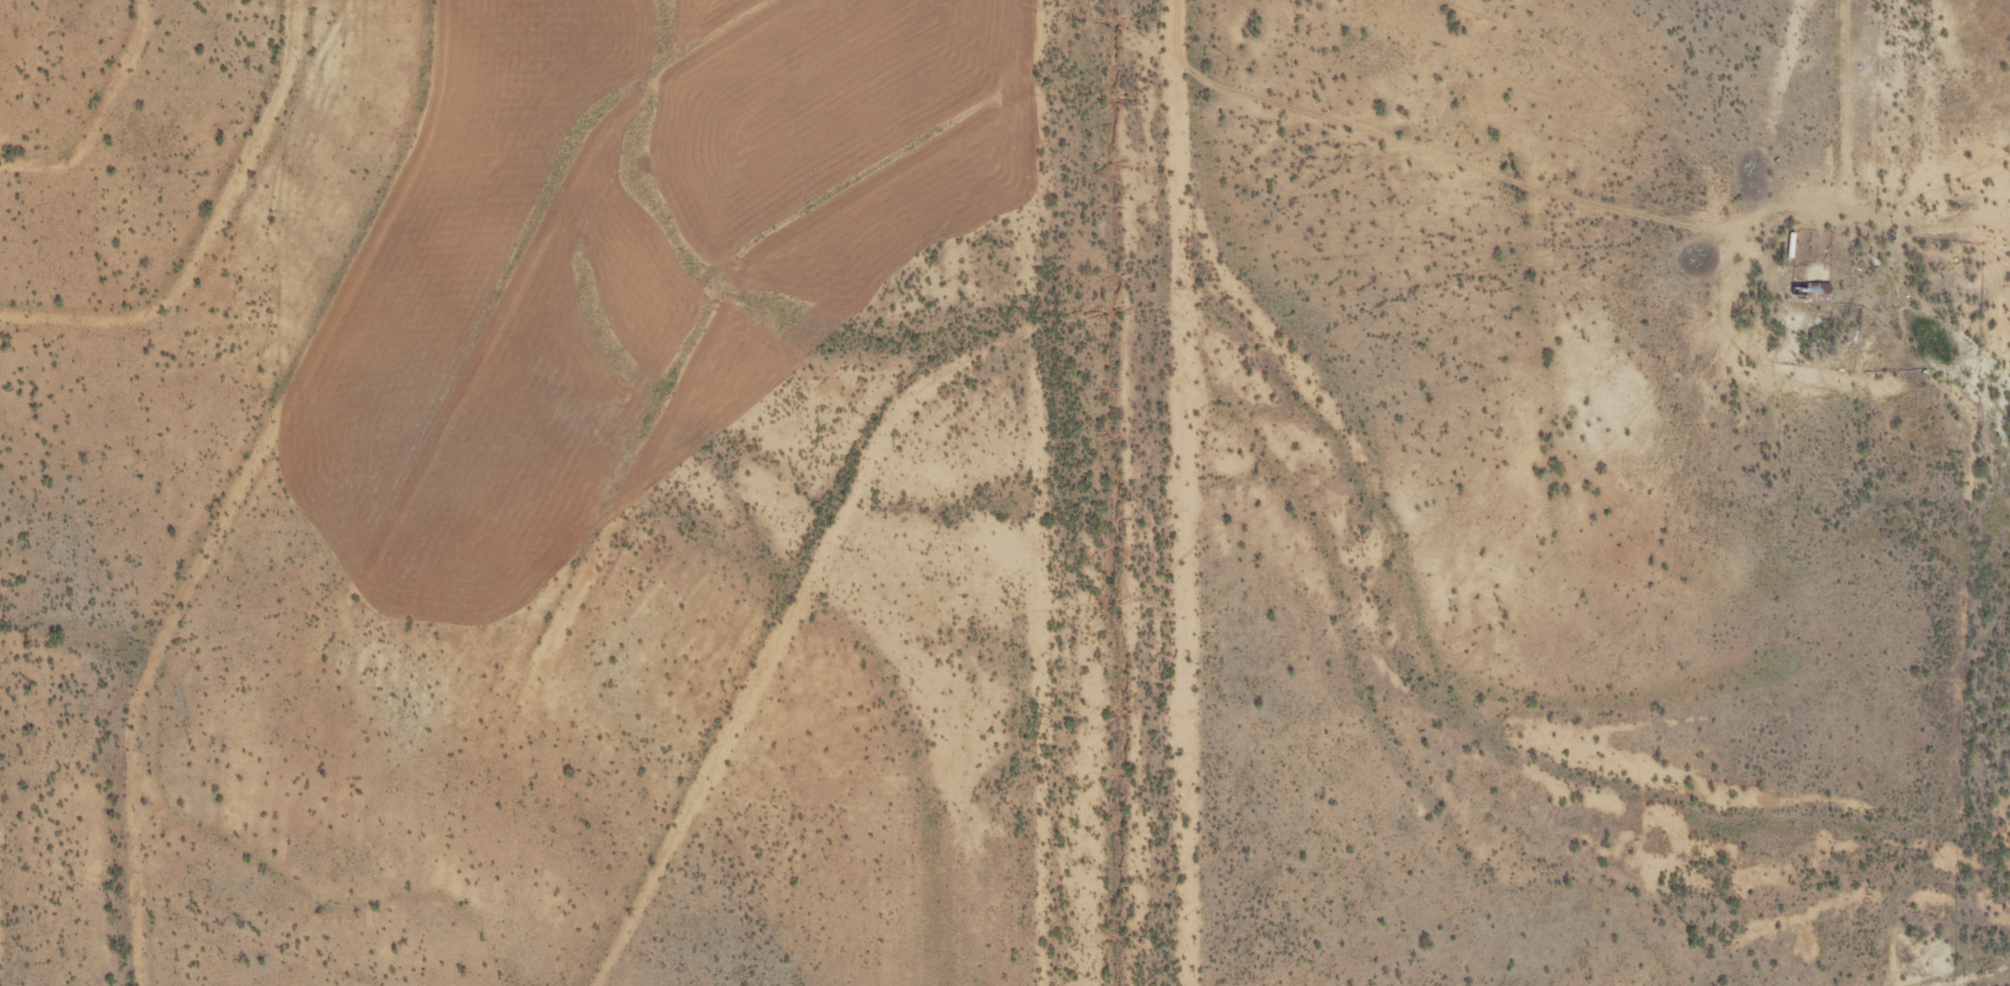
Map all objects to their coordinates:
road: (1917, 130)
building: (1809, 292)

